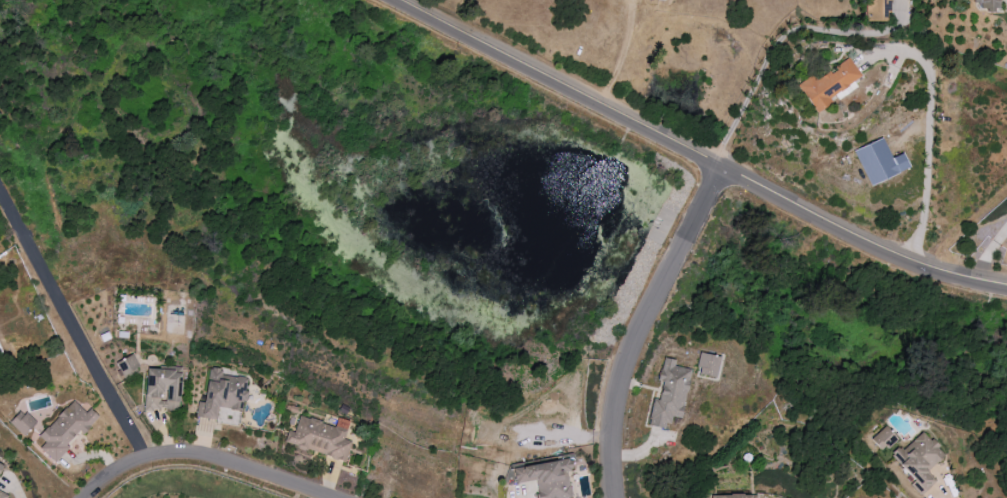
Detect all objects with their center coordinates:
building: (988, 5)
building: (877, 10)
road: (778, 41)
building: (830, 84)
road: (700, 152)
building: (879, 161)
road: (929, 166)
road: (988, 253)
road: (74, 323)
road: (656, 327)
building: (127, 365)
building: (708, 365)
building: (162, 389)
building: (222, 393)
building: (669, 394)
building: (22, 422)
building: (66, 429)
building: (320, 437)
building: (884, 438)
road: (205, 458)
building: (919, 459)
building: (1, 465)
building: (546, 478)
road: (946, 488)
building: (2, 494)
building: (733, 496)

